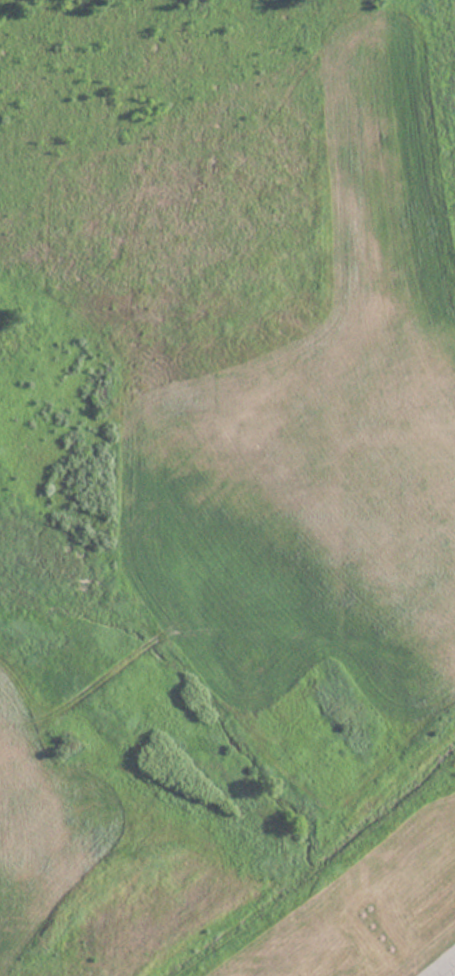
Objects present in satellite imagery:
airport runway: (449, 971)

